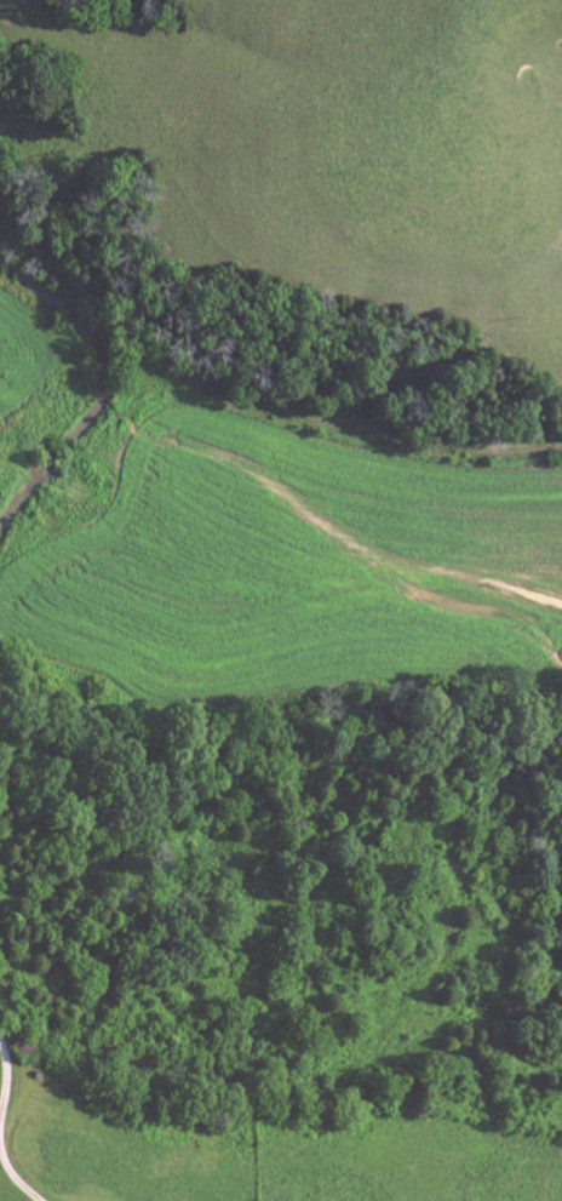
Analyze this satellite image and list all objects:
road: (13, 1184)

